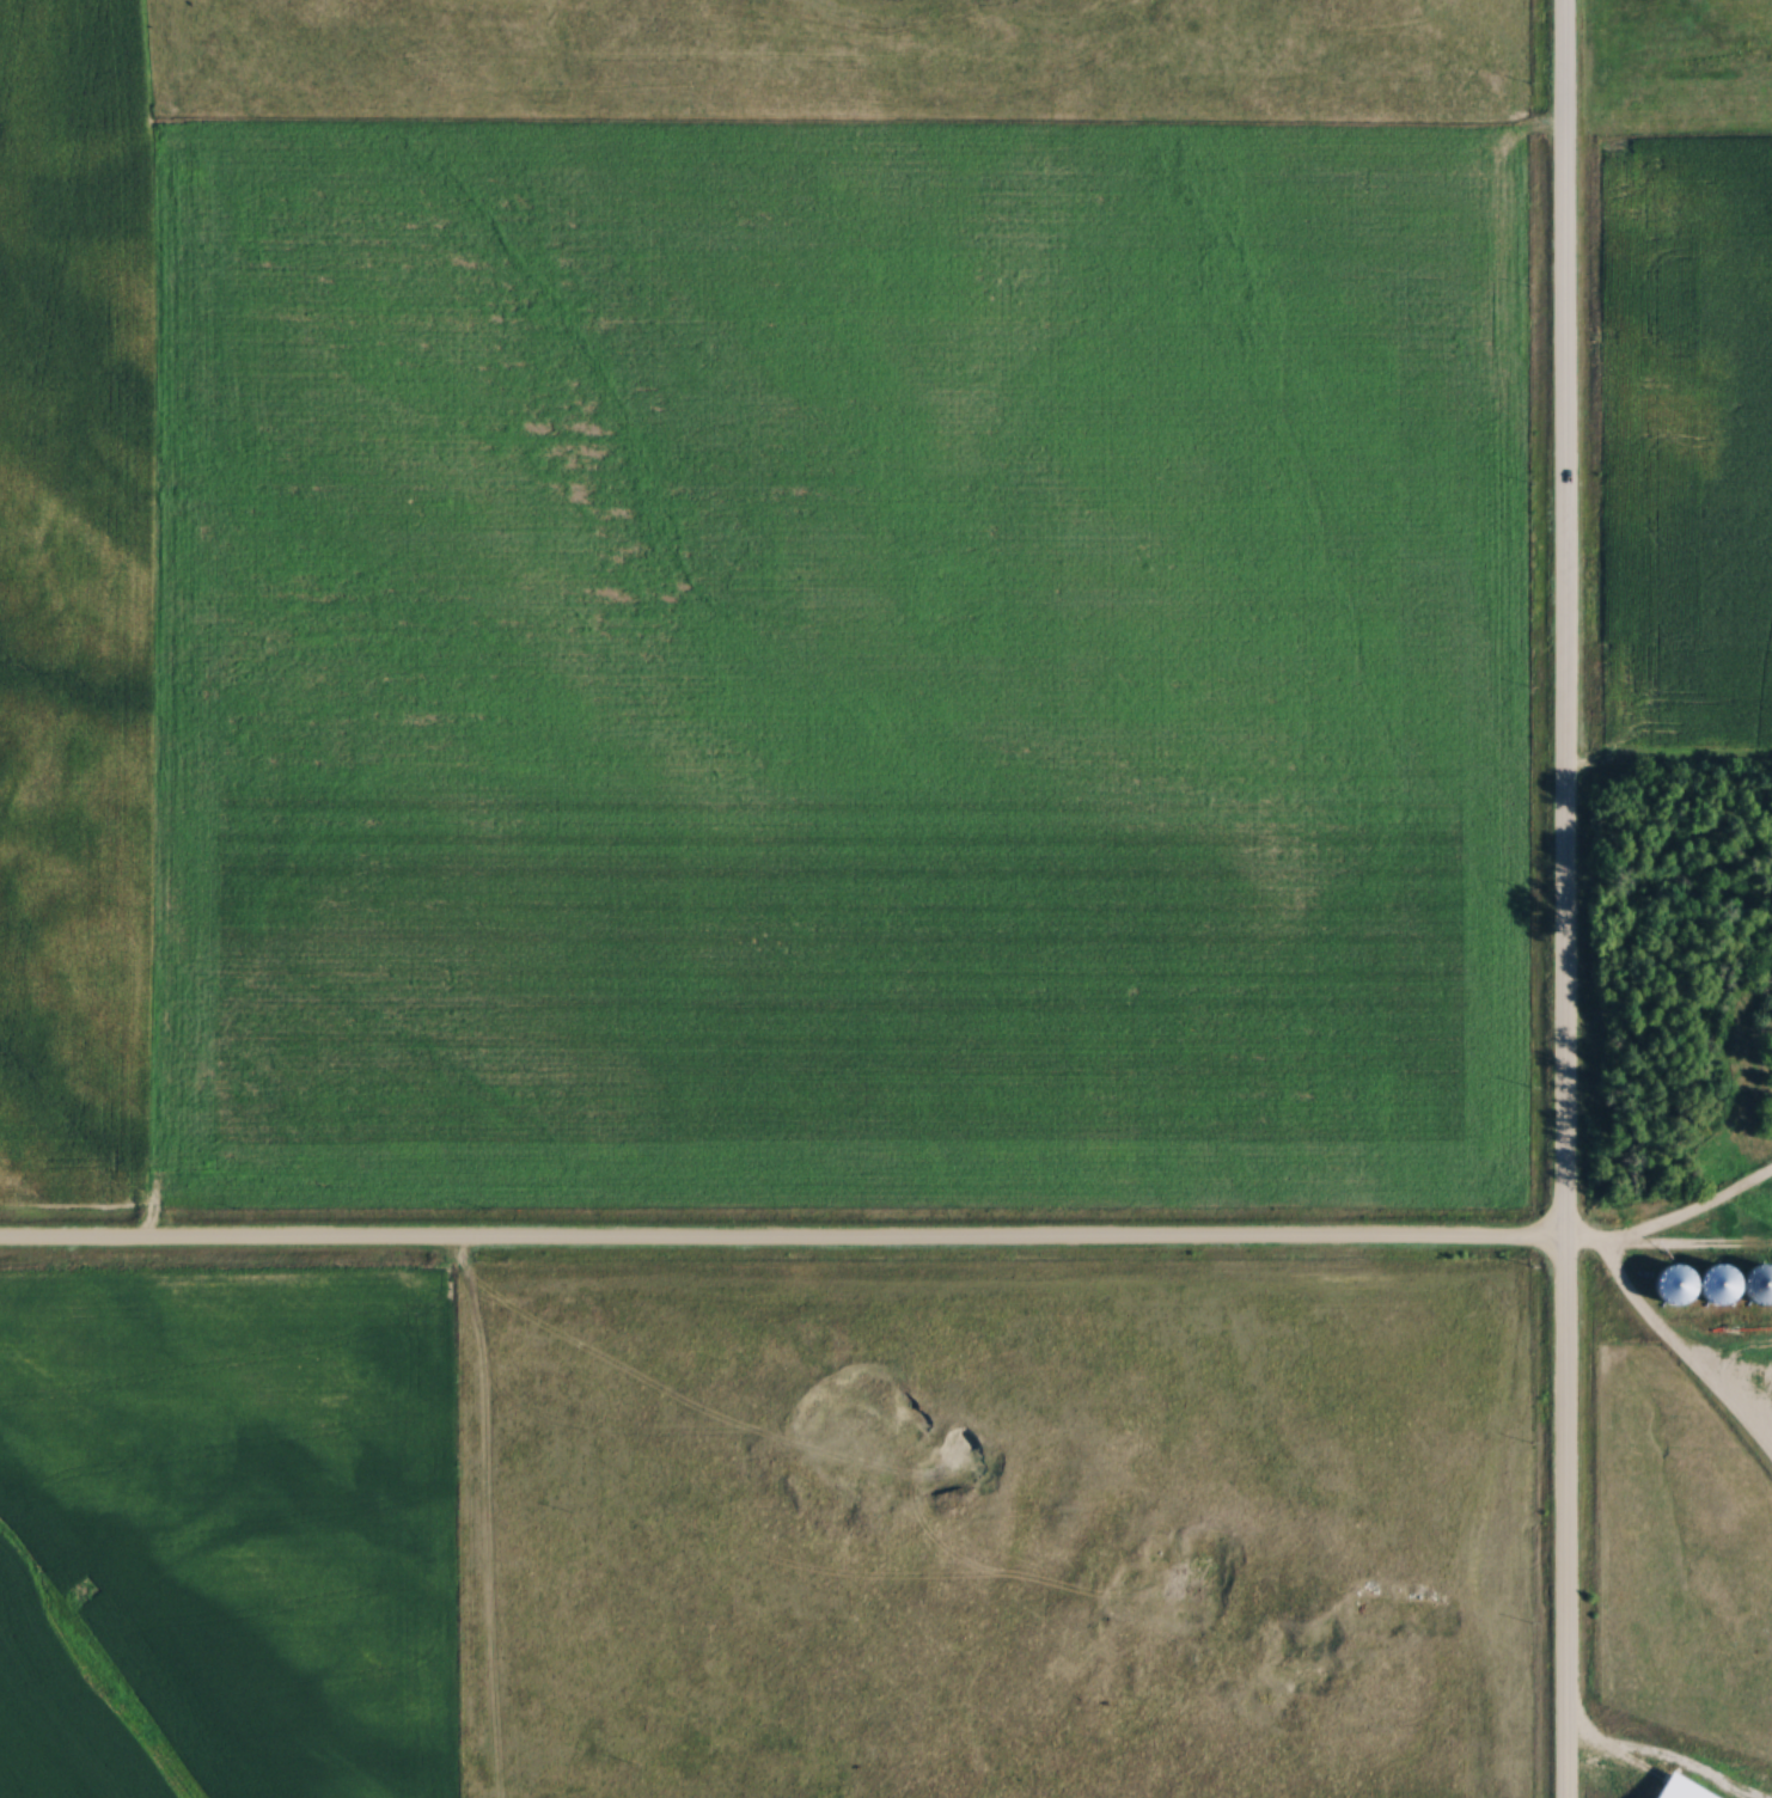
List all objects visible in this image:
road: (1564, 899)
road: (1670, 1224)
road: (782, 1240)

